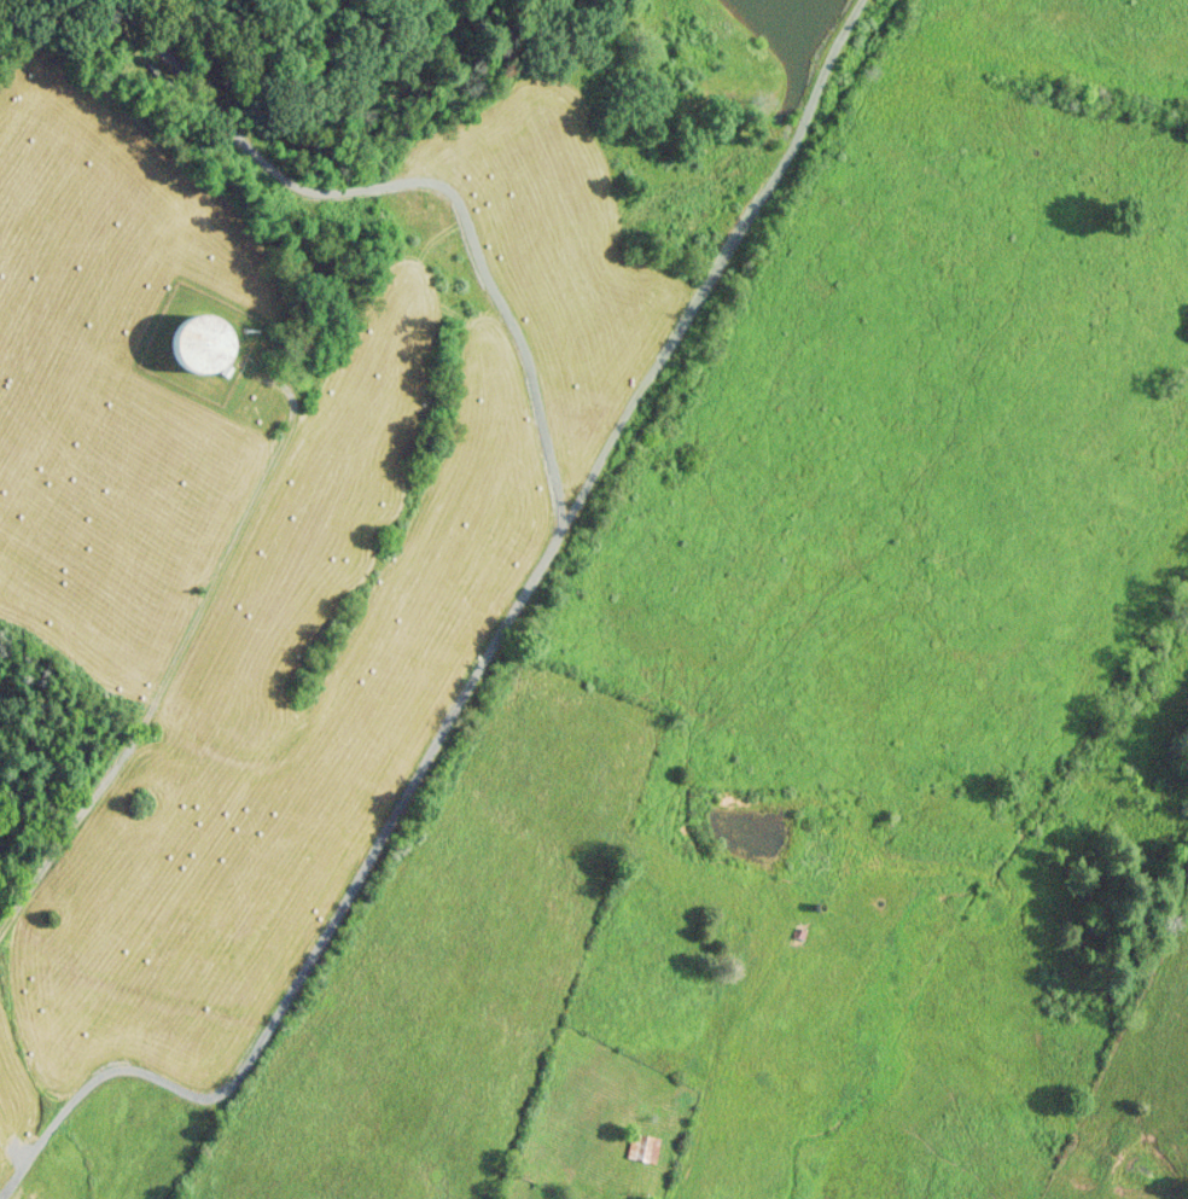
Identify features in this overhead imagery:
building: (203, 345)
road: (179, 646)
road: (474, 674)
building: (643, 1146)
road: (675, 1191)

